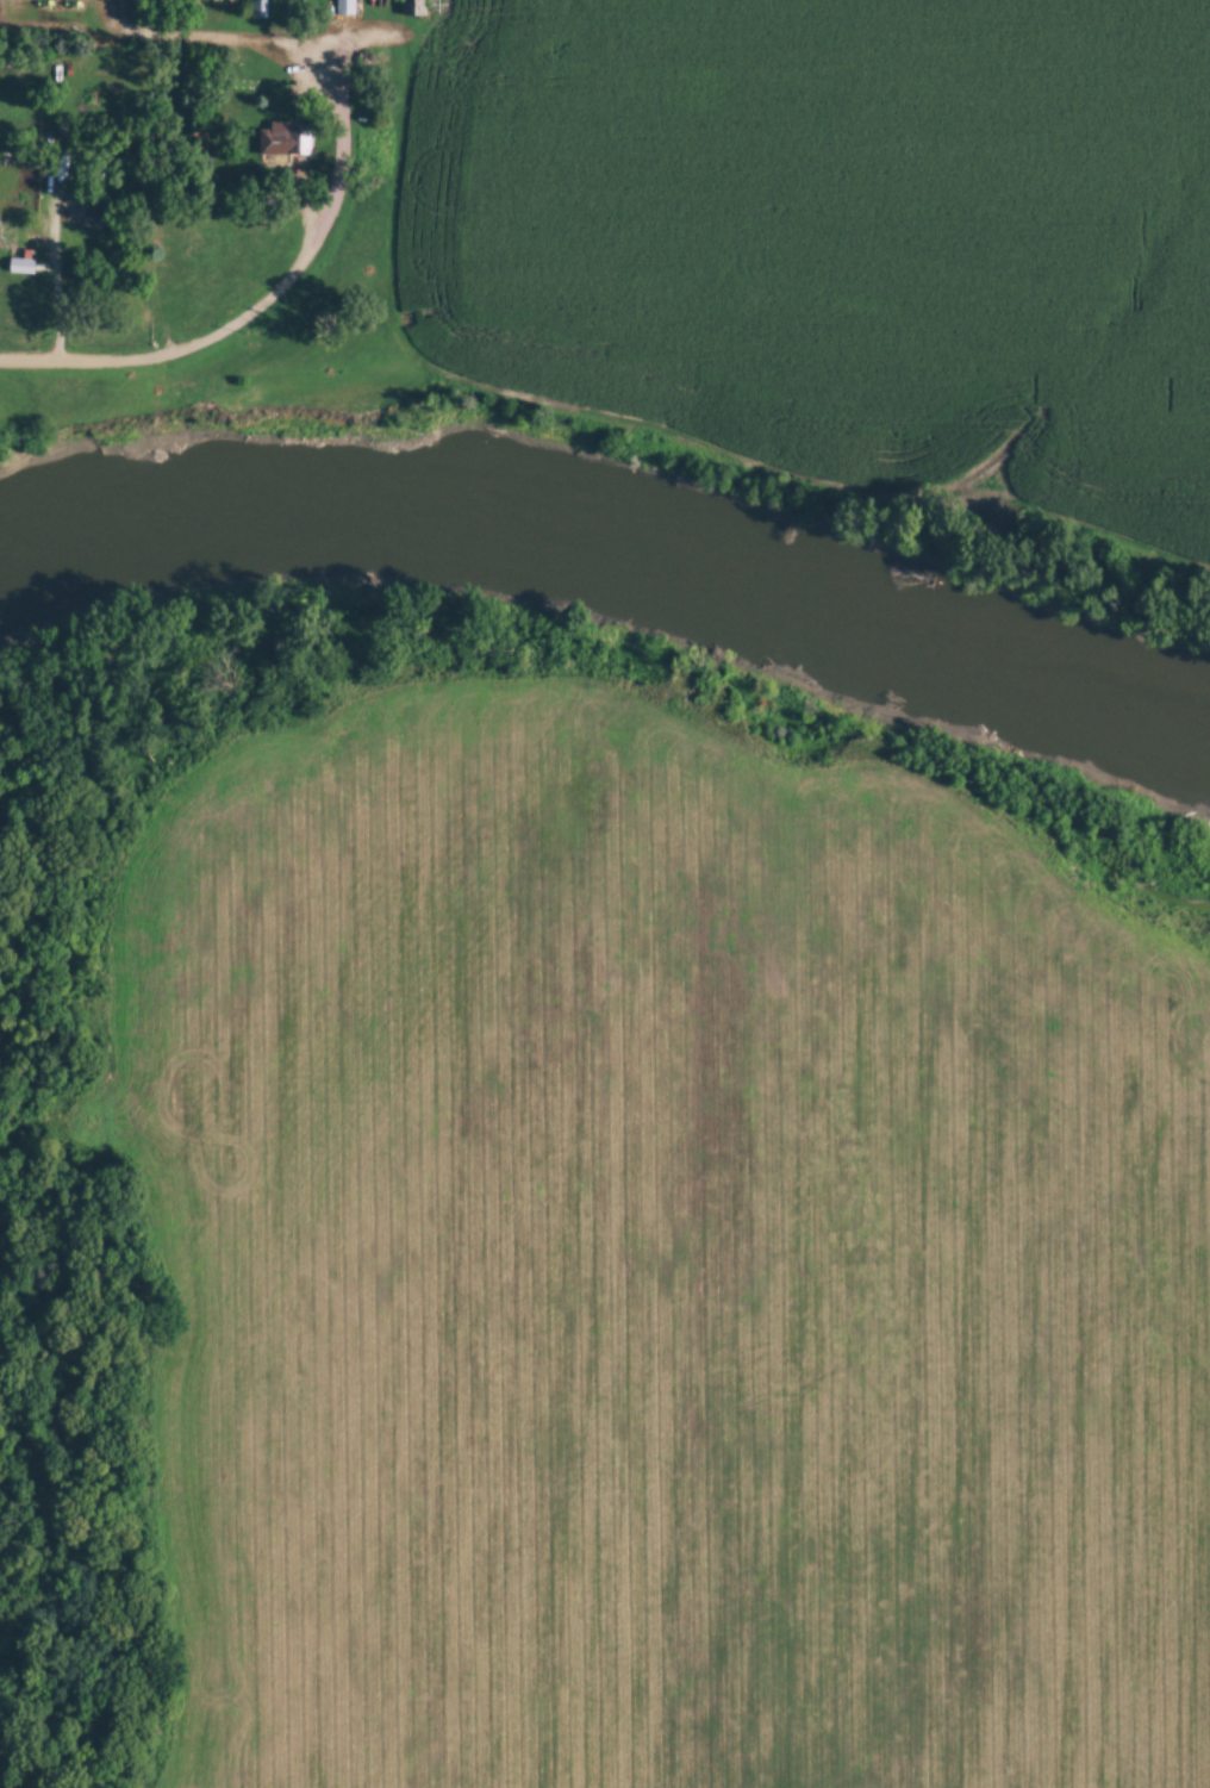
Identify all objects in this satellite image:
road: (256, 43)
road: (51, 274)
road: (220, 328)
river: (613, 552)

